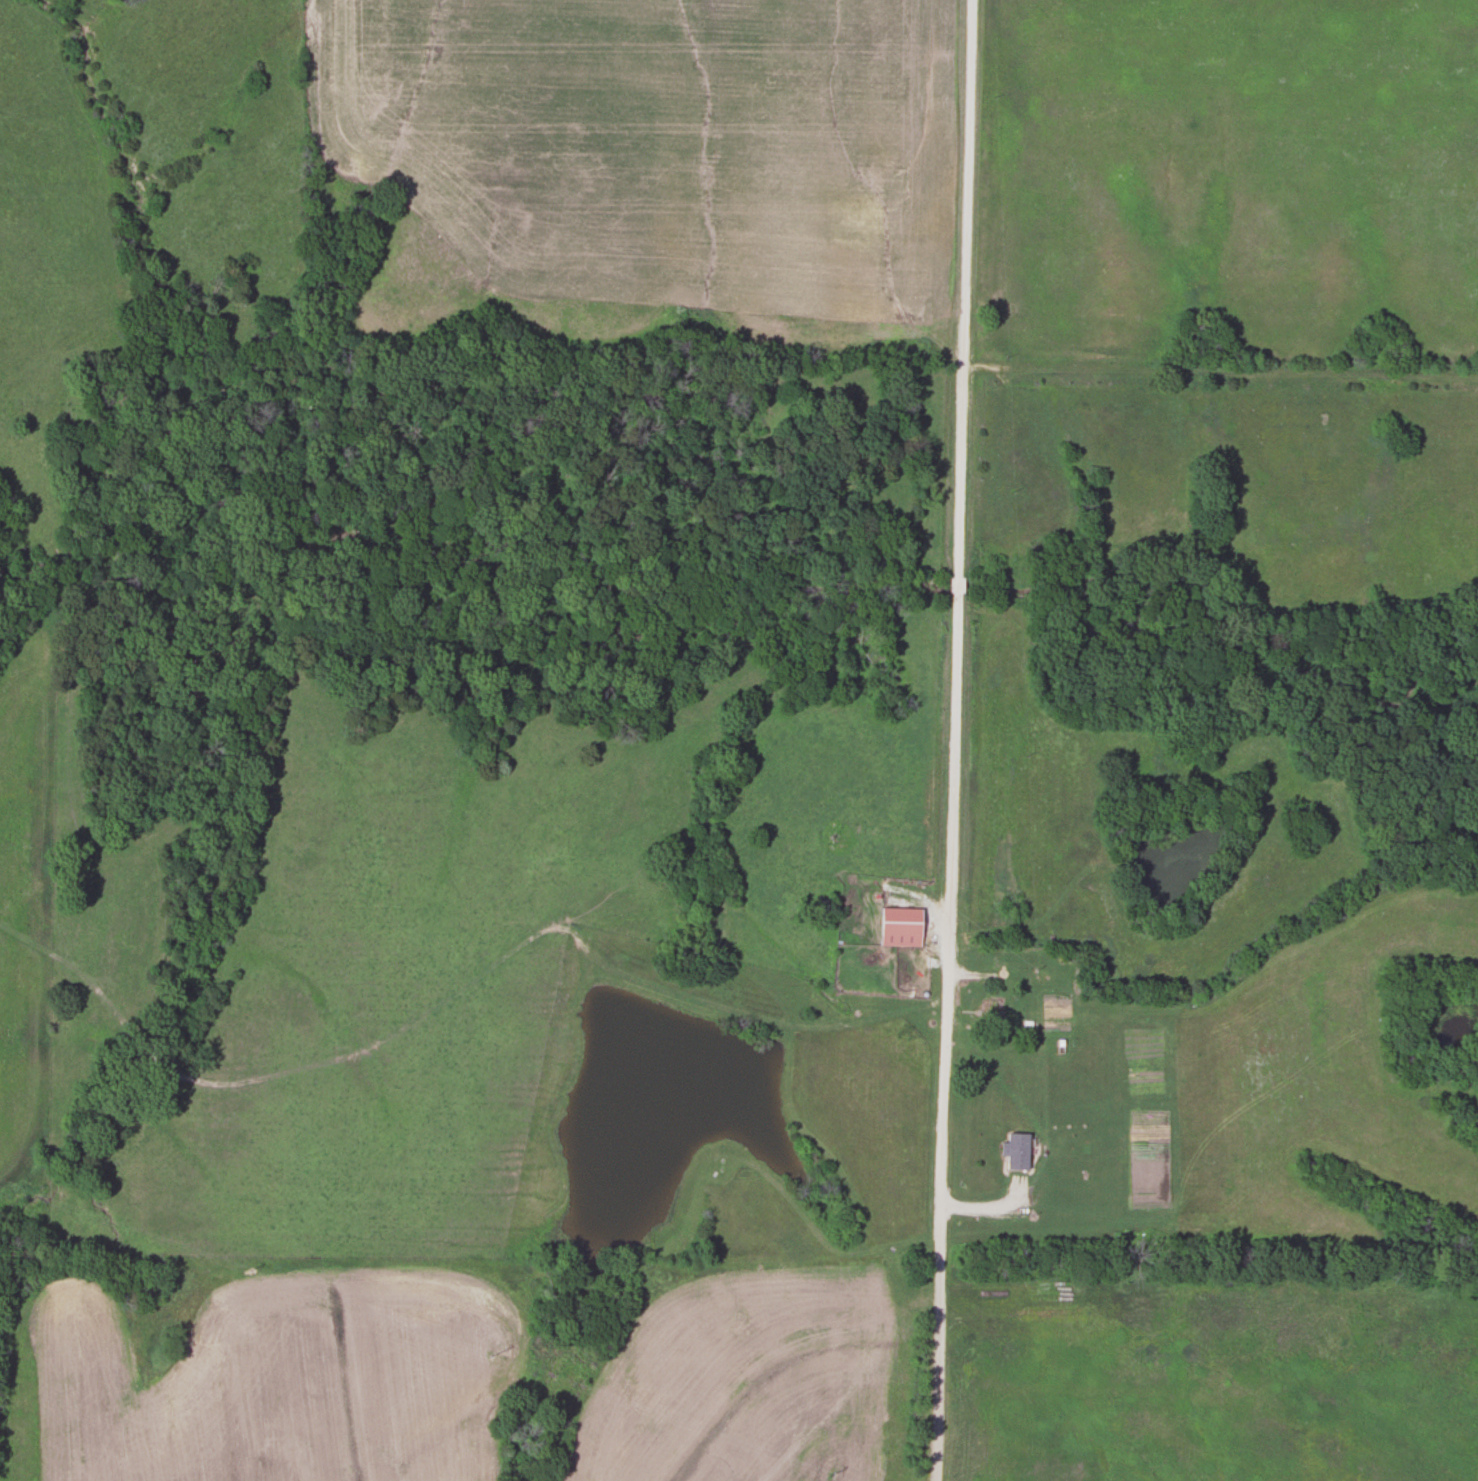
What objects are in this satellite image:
road: (956, 740)
building: (900, 926)
building: (990, 1011)
building: (1017, 1151)

